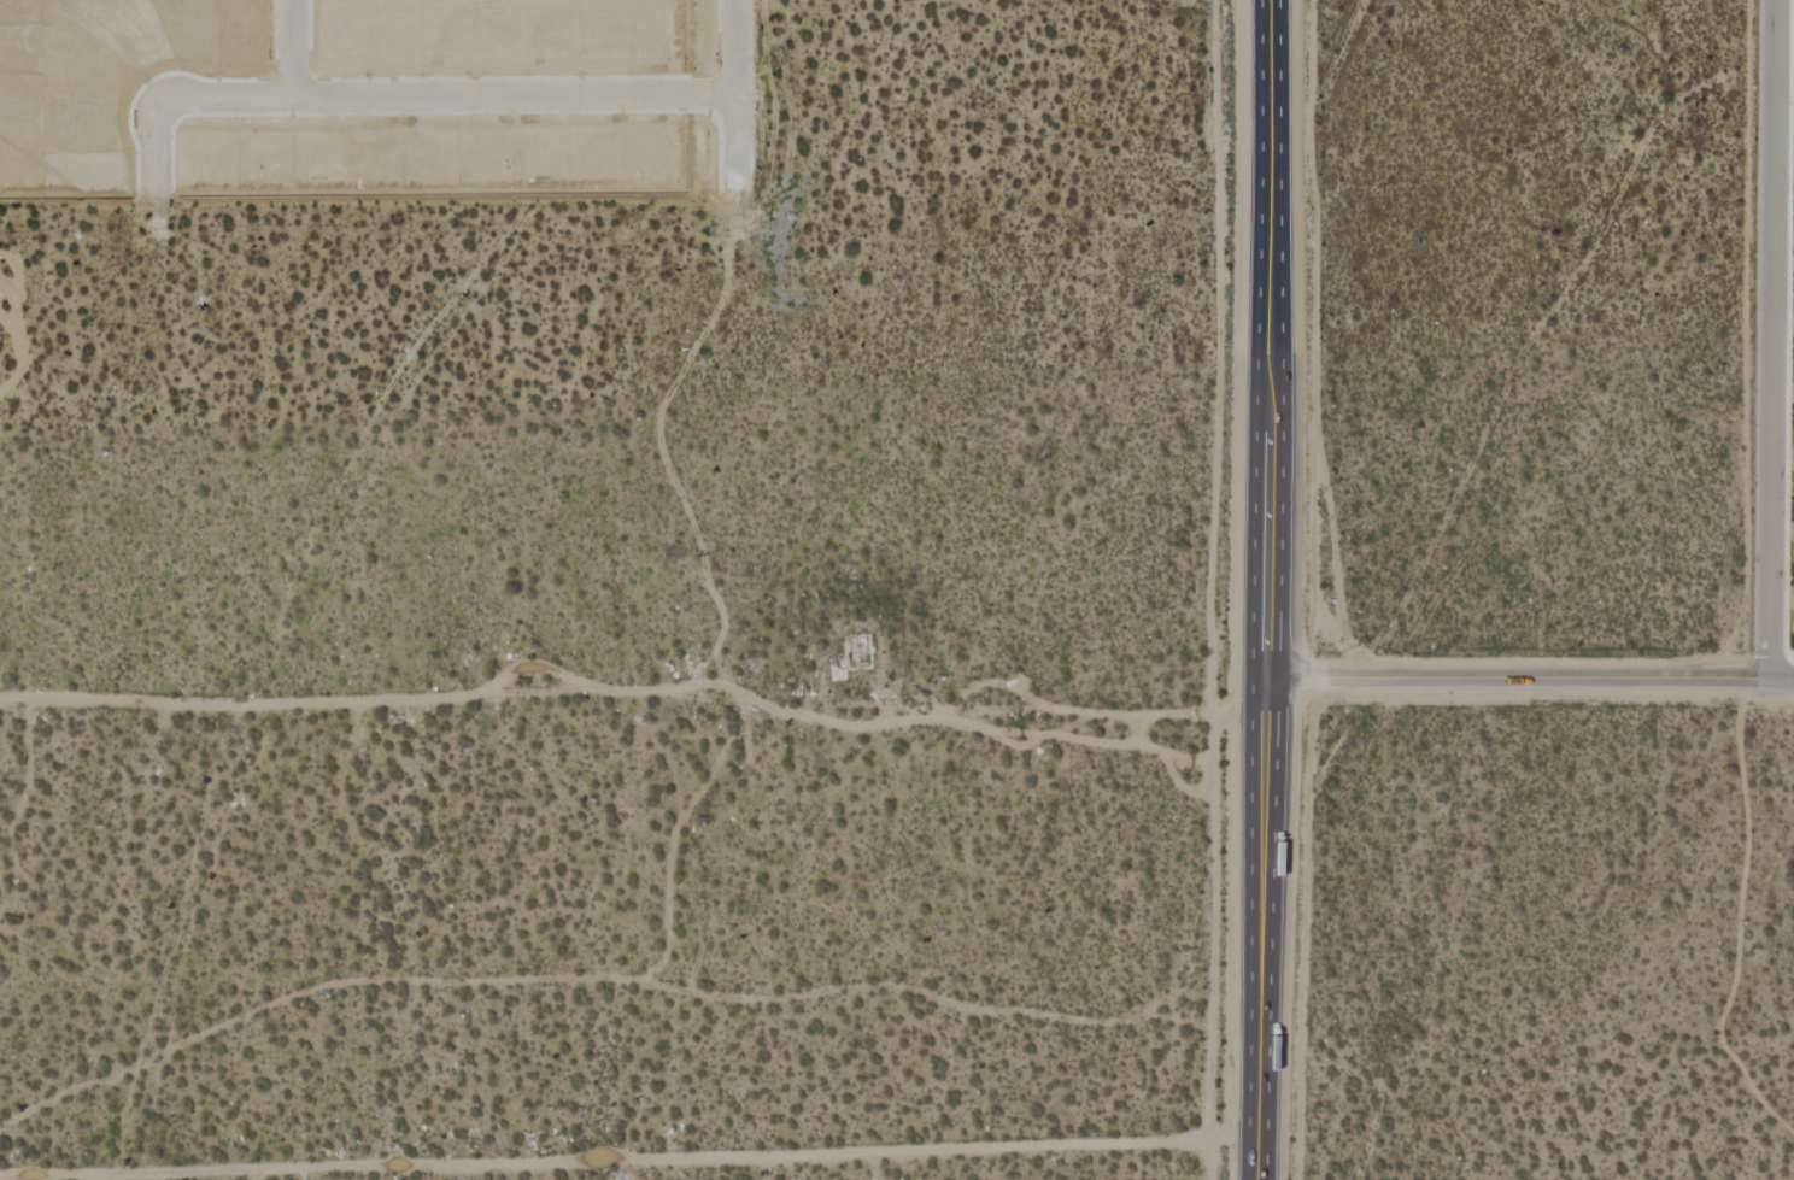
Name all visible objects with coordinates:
road: (294, 51)
road: (737, 93)
road: (387, 100)
road: (1267, 188)
road: (1771, 339)
road: (1267, 527)
road: (1530, 677)
road: (643, 691)
road: (1259, 928)
road: (626, 1157)

